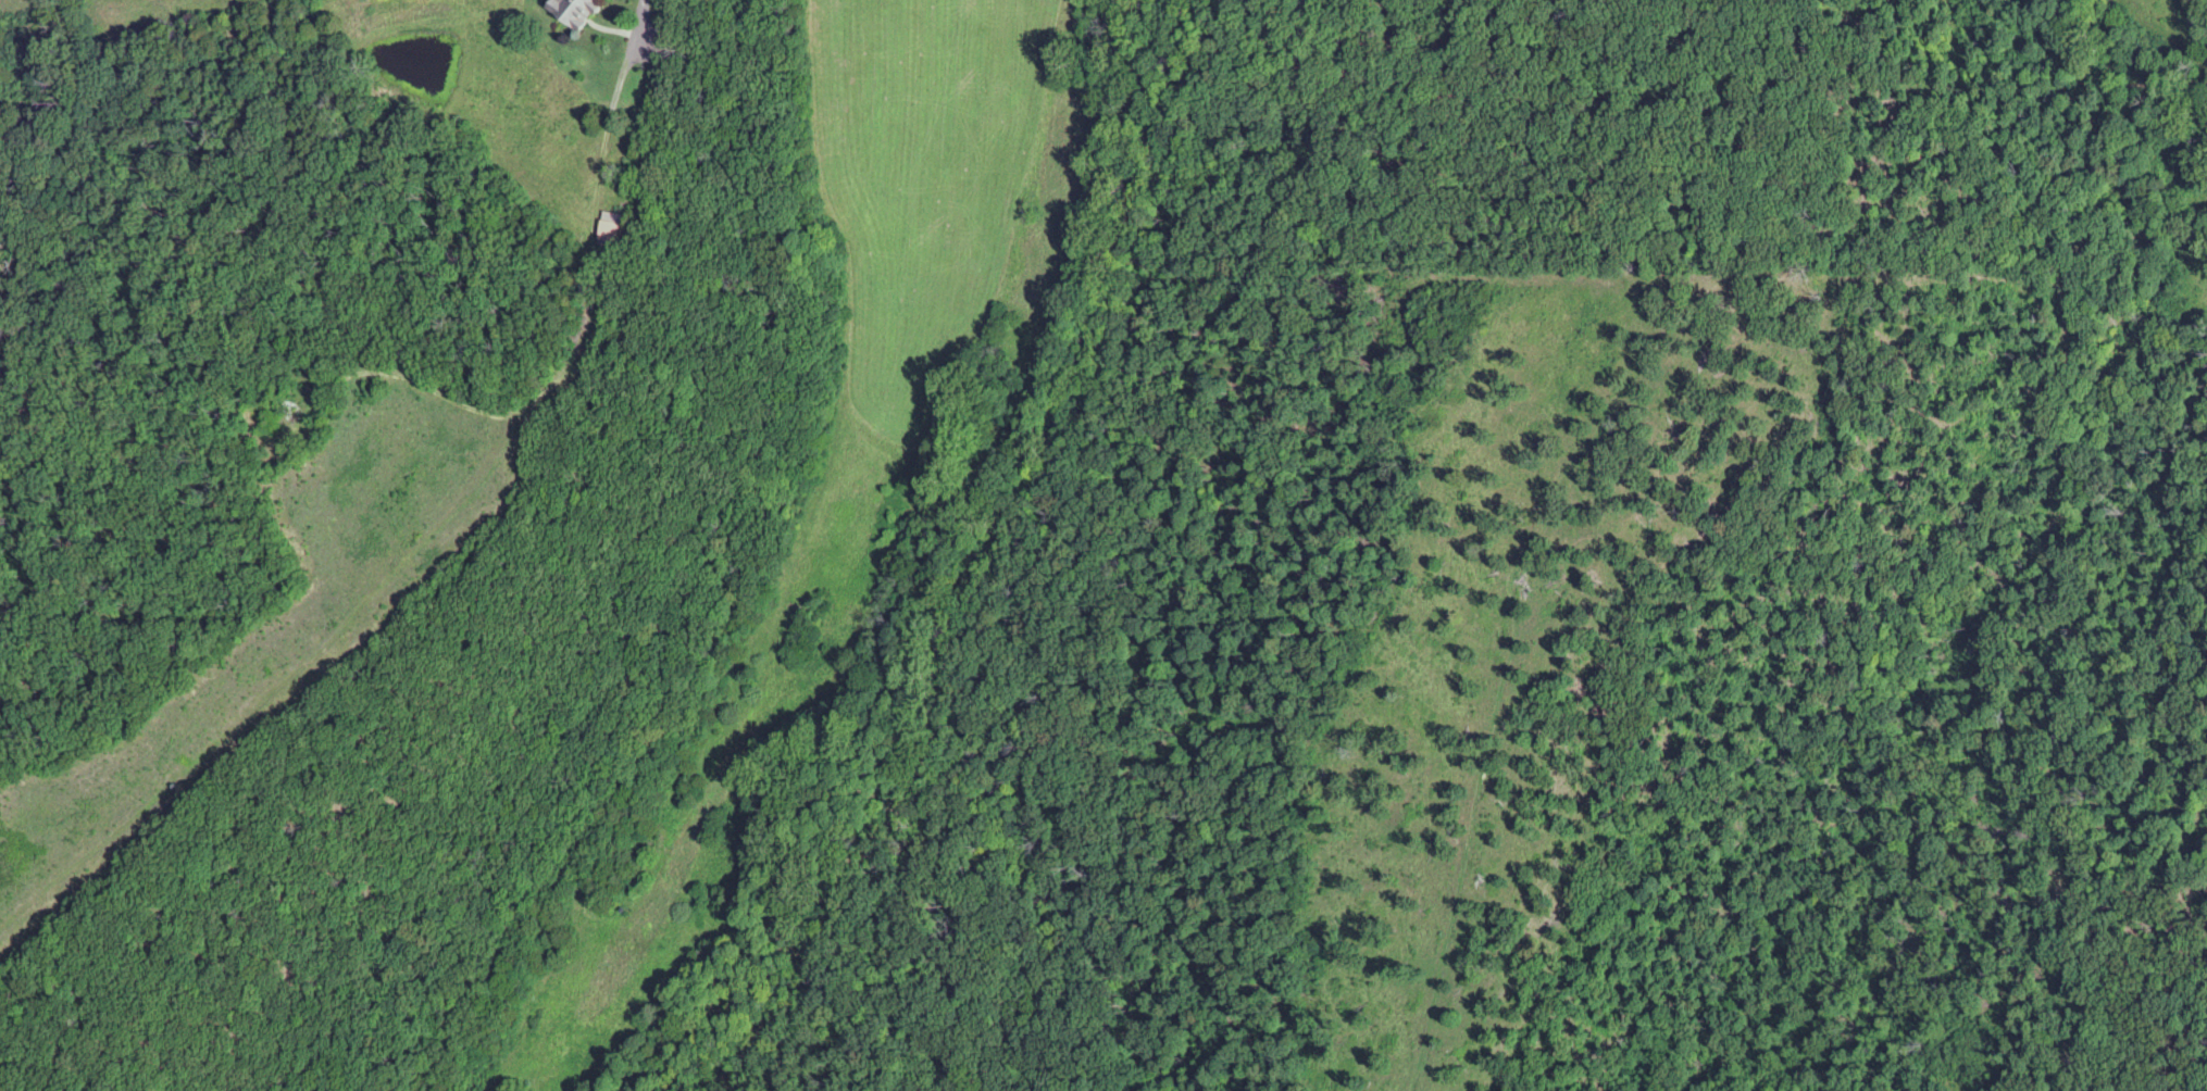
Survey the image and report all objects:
building: (569, 12)
road: (591, 217)
building: (604, 226)

